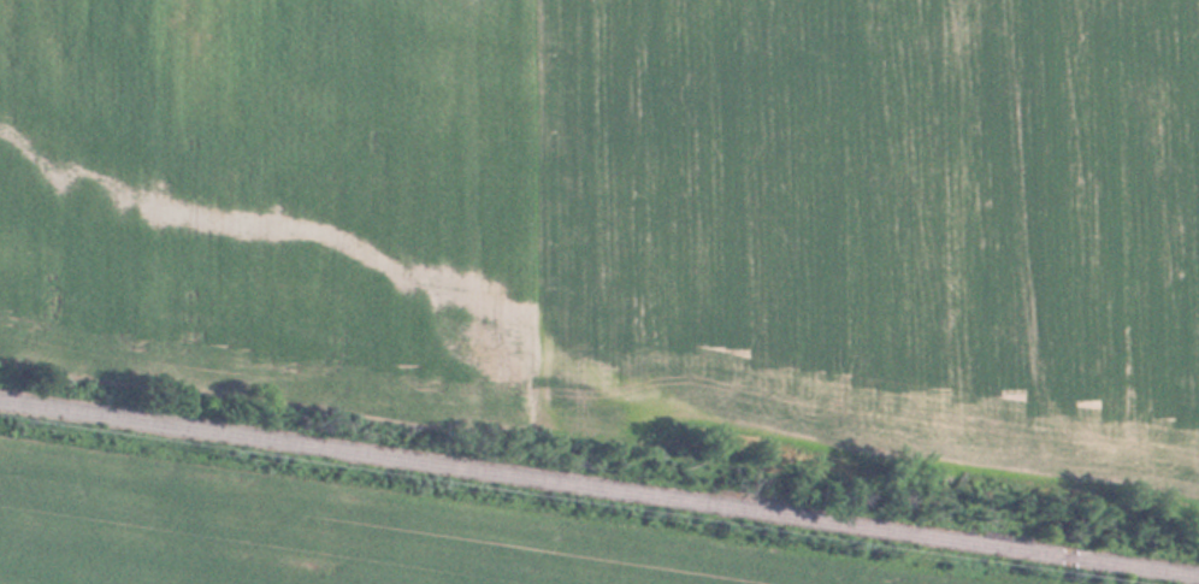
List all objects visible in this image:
railway: (599, 490)

